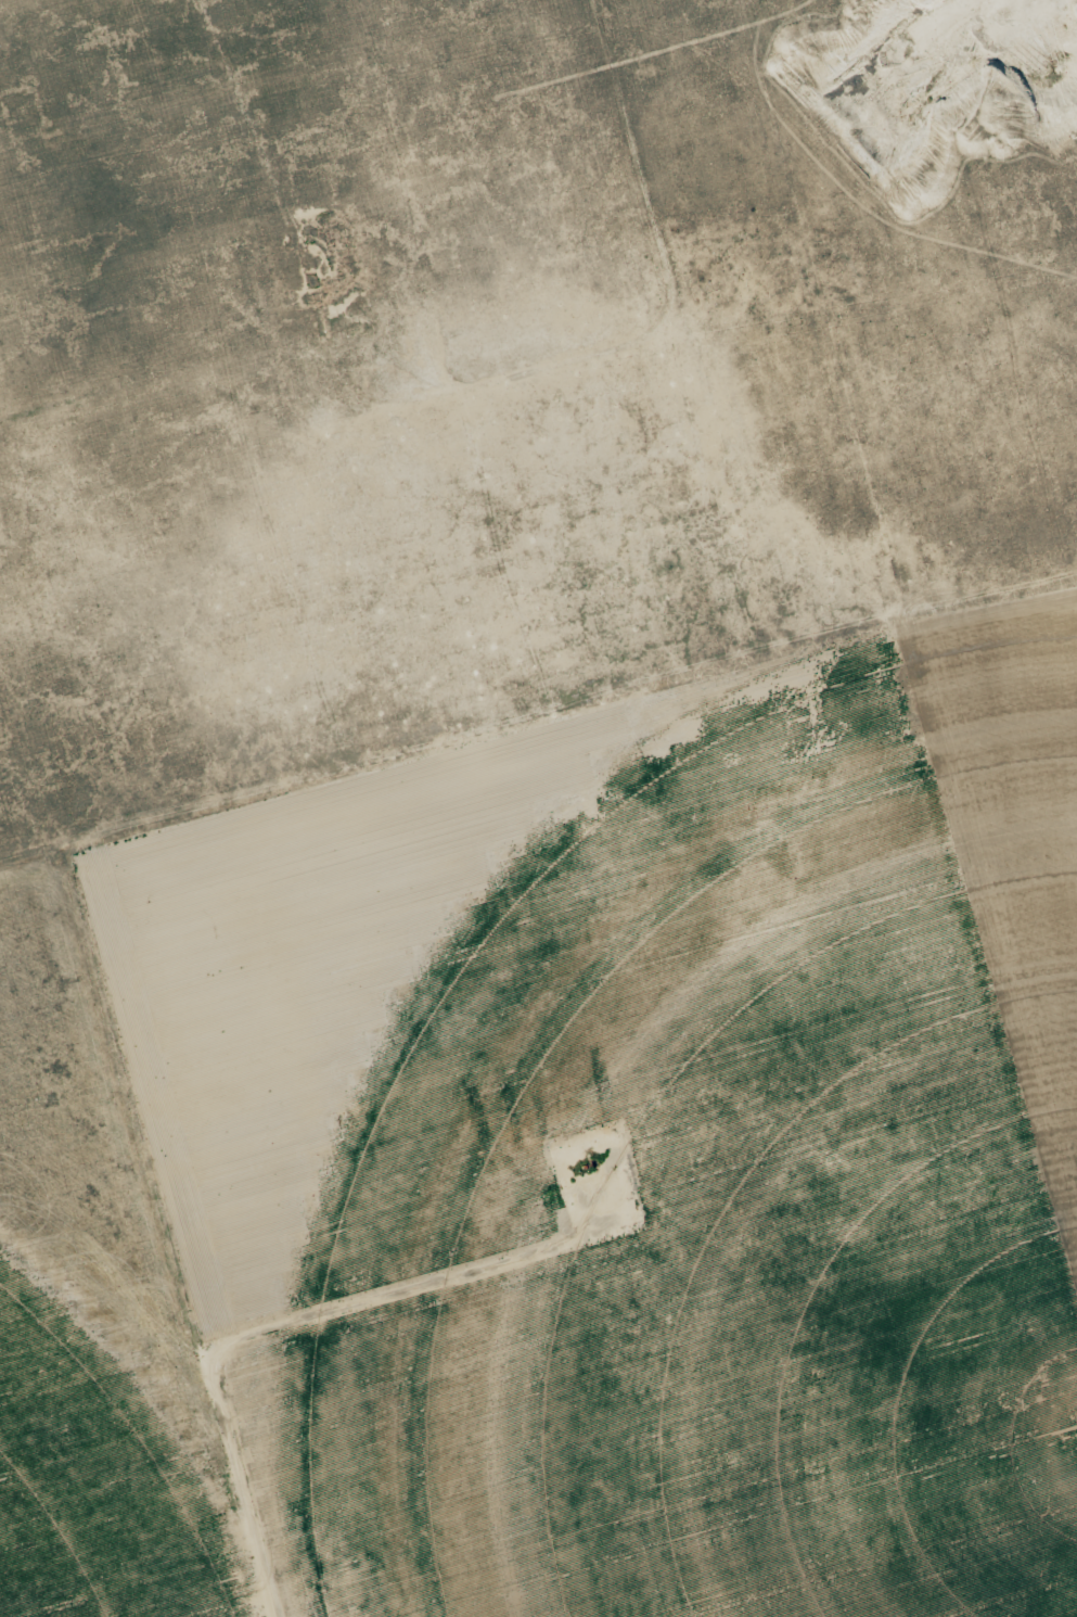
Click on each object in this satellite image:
road: (651, 683)
petroleum well: (601, 1149)

